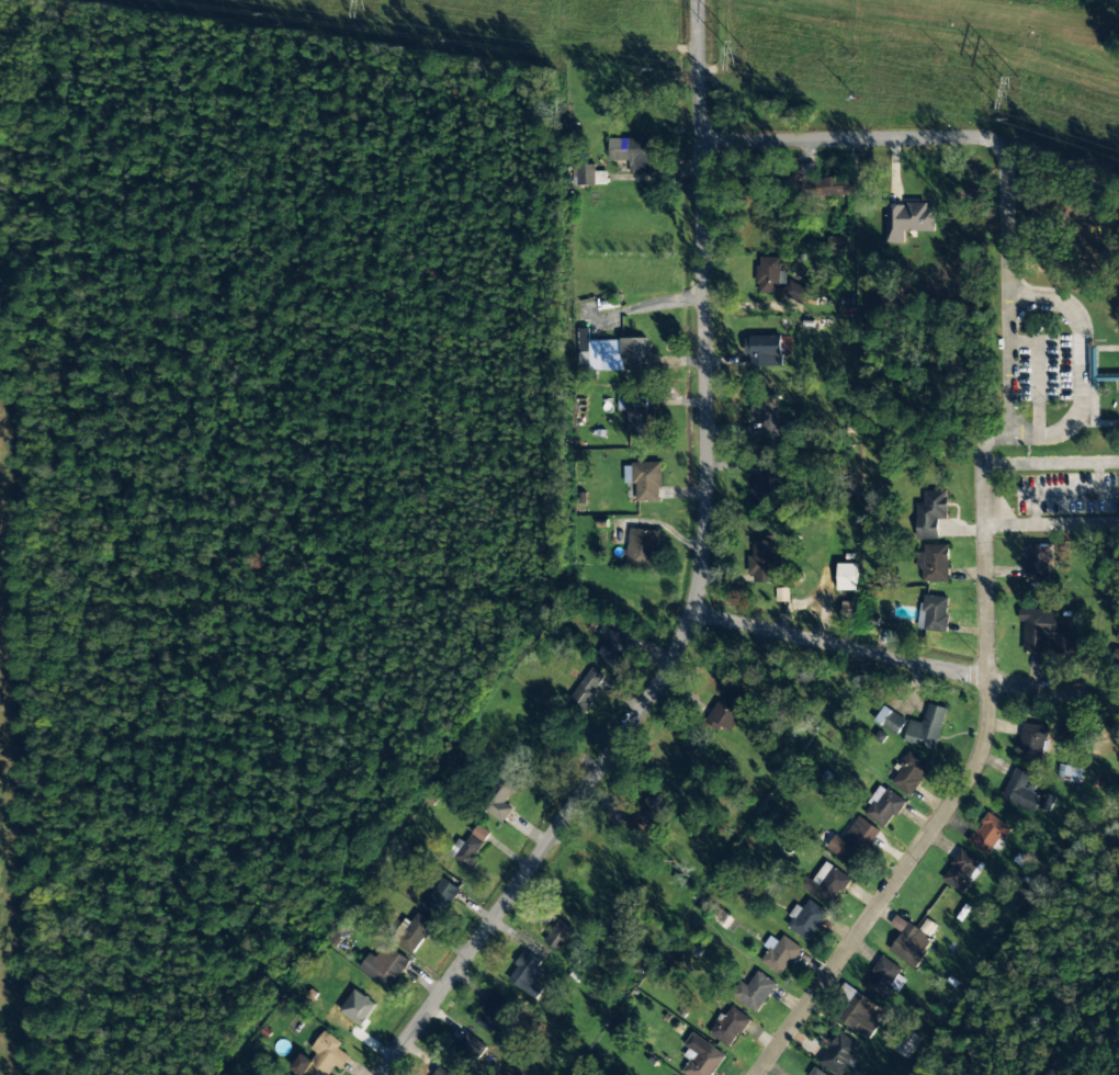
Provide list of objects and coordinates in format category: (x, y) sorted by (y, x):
power tower: (371, 4)
power tower: (1013, 93)
building: (631, 152)
building: (586, 176)
building: (822, 183)
building: (908, 219)
building: (839, 242)
building: (777, 281)
building: (581, 349)
building: (764, 350)
building: (619, 352)
building: (766, 414)
building: (640, 416)
building: (649, 483)
building: (760, 483)
road: (983, 488)
building: (930, 513)
building: (641, 550)
building: (1038, 561)
building: (762, 562)
building: (936, 563)
building: (847, 577)
road: (696, 584)
building: (849, 609)
building: (935, 613)
building: (1044, 633)
building: (1118, 640)
building: (611, 646)
road: (883, 655)
building: (586, 690)
building: (730, 709)
building: (890, 720)
building: (927, 727)
building: (1070, 732)
building: (1032, 743)
building: (1069, 772)
building: (909, 773)
building: (1021, 790)
building: (501, 794)
building: (1047, 802)
building: (883, 806)
building: (646, 812)
building: (990, 834)
building: (854, 841)
building: (468, 847)
building: (962, 871)
building: (828, 883)
building: (441, 898)
building: (805, 919)
building: (412, 931)
building: (558, 935)
building: (912, 940)
building: (779, 953)
building: (384, 966)
building: (527, 975)
building: (883, 980)
building: (755, 992)
building: (846, 994)
building: (358, 1007)
building: (490, 1011)
building: (861, 1015)
building: (728, 1027)
building: (906, 1043)
building: (472, 1046)
building: (839, 1054)
building: (320, 1056)
building: (701, 1057)
building: (445, 1071)

